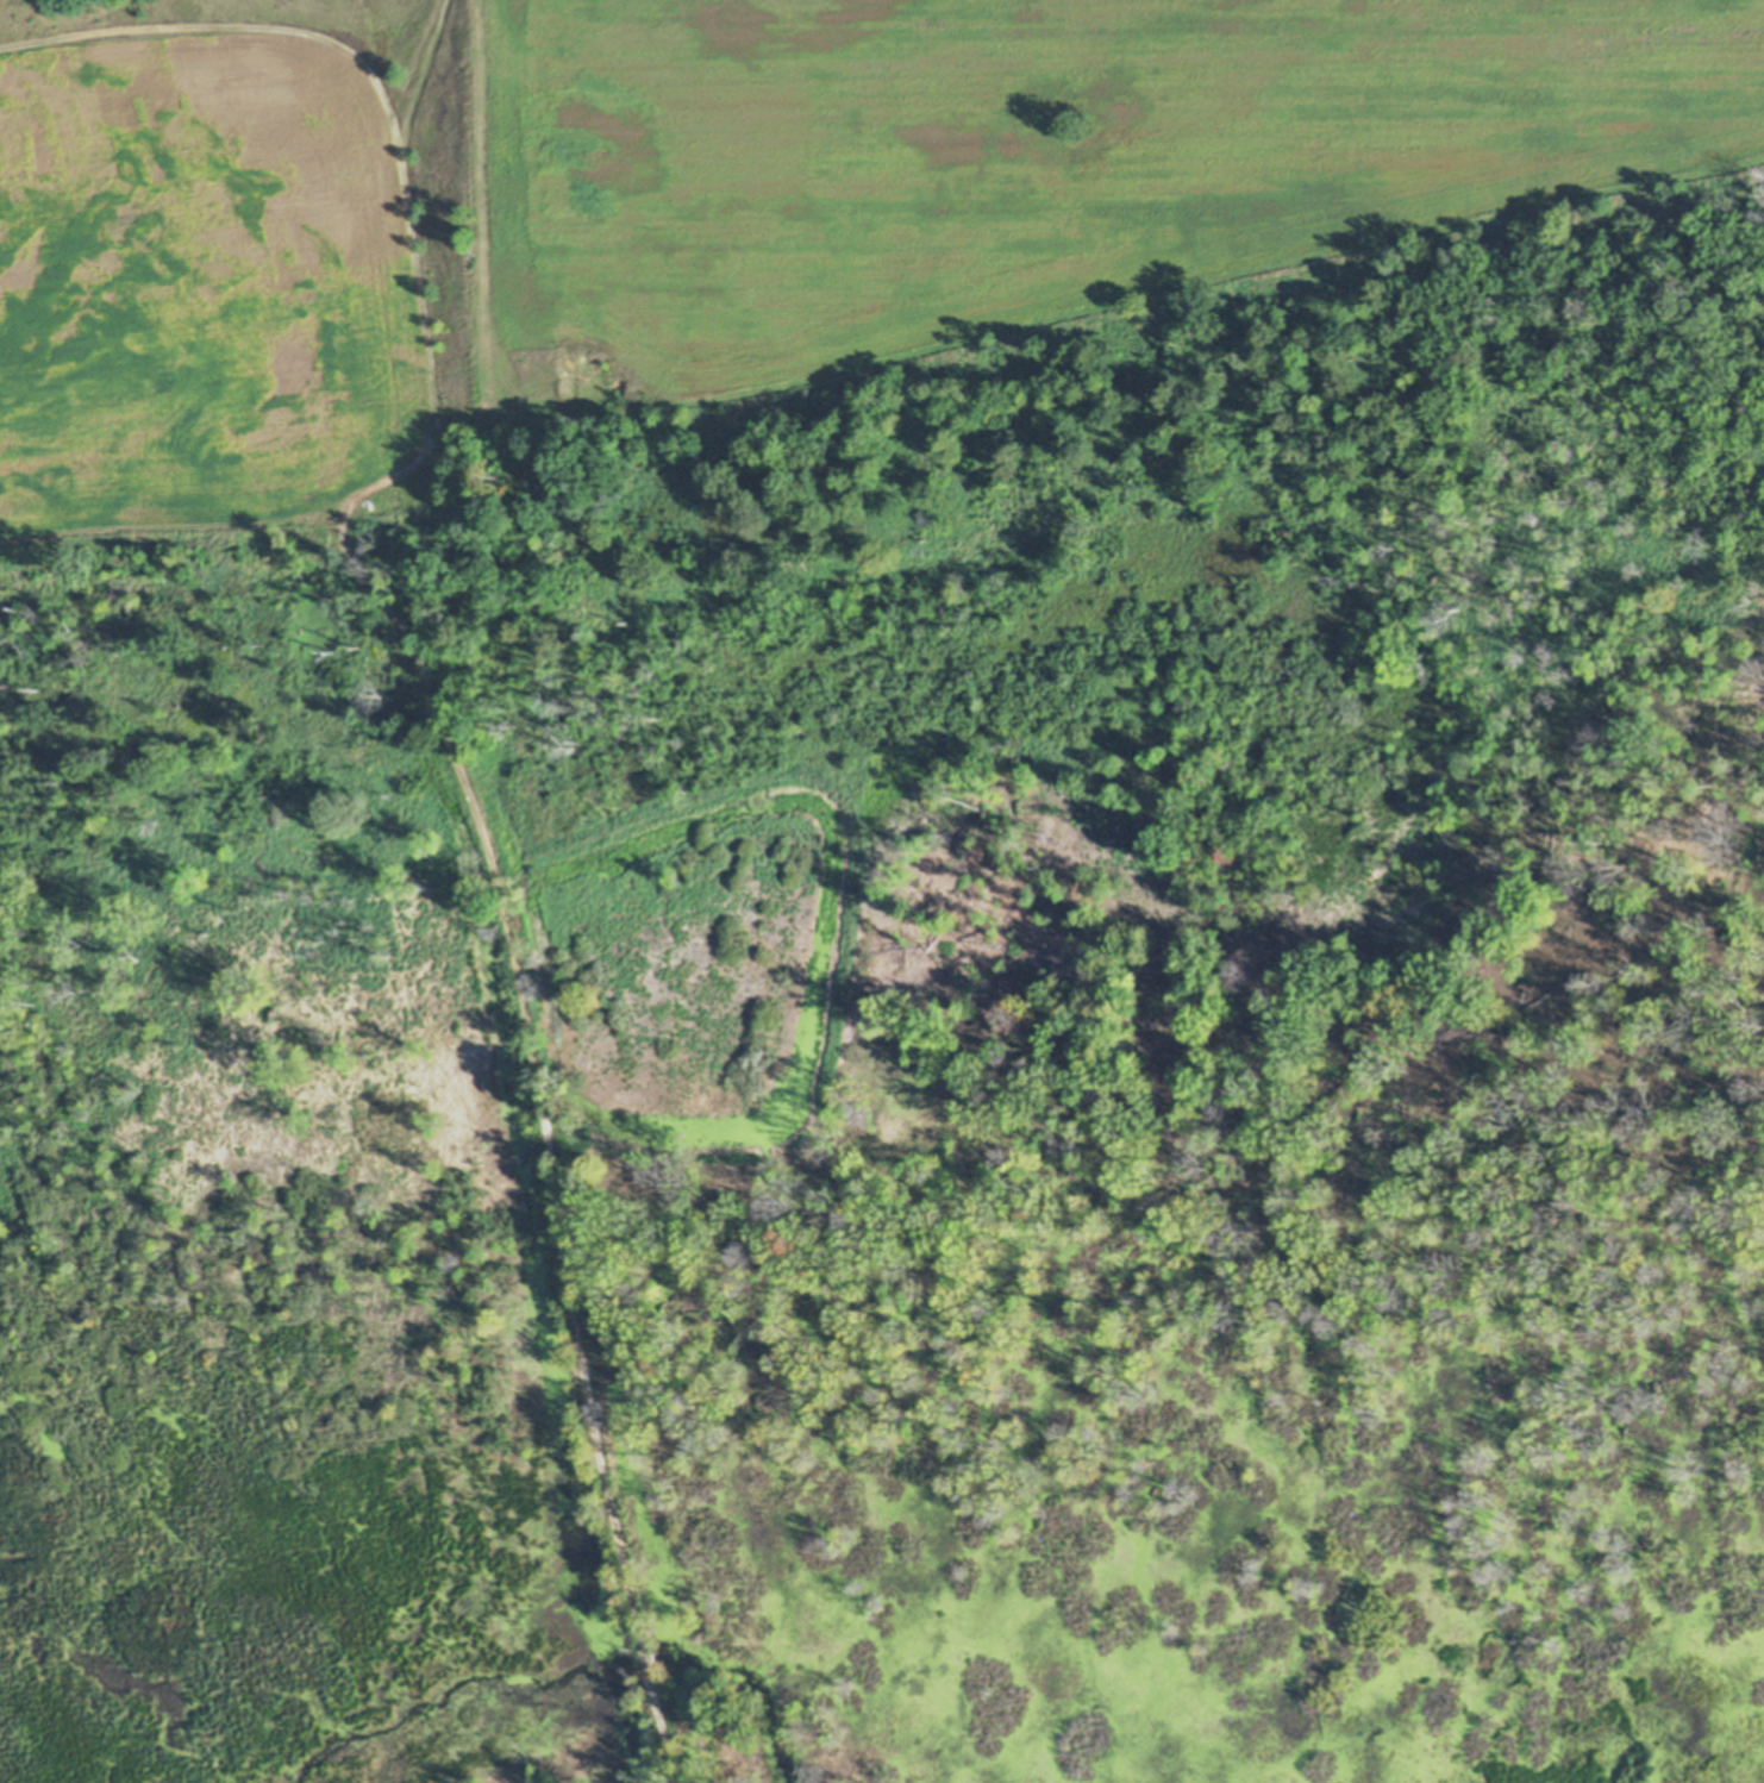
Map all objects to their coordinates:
road: (61, 33)

